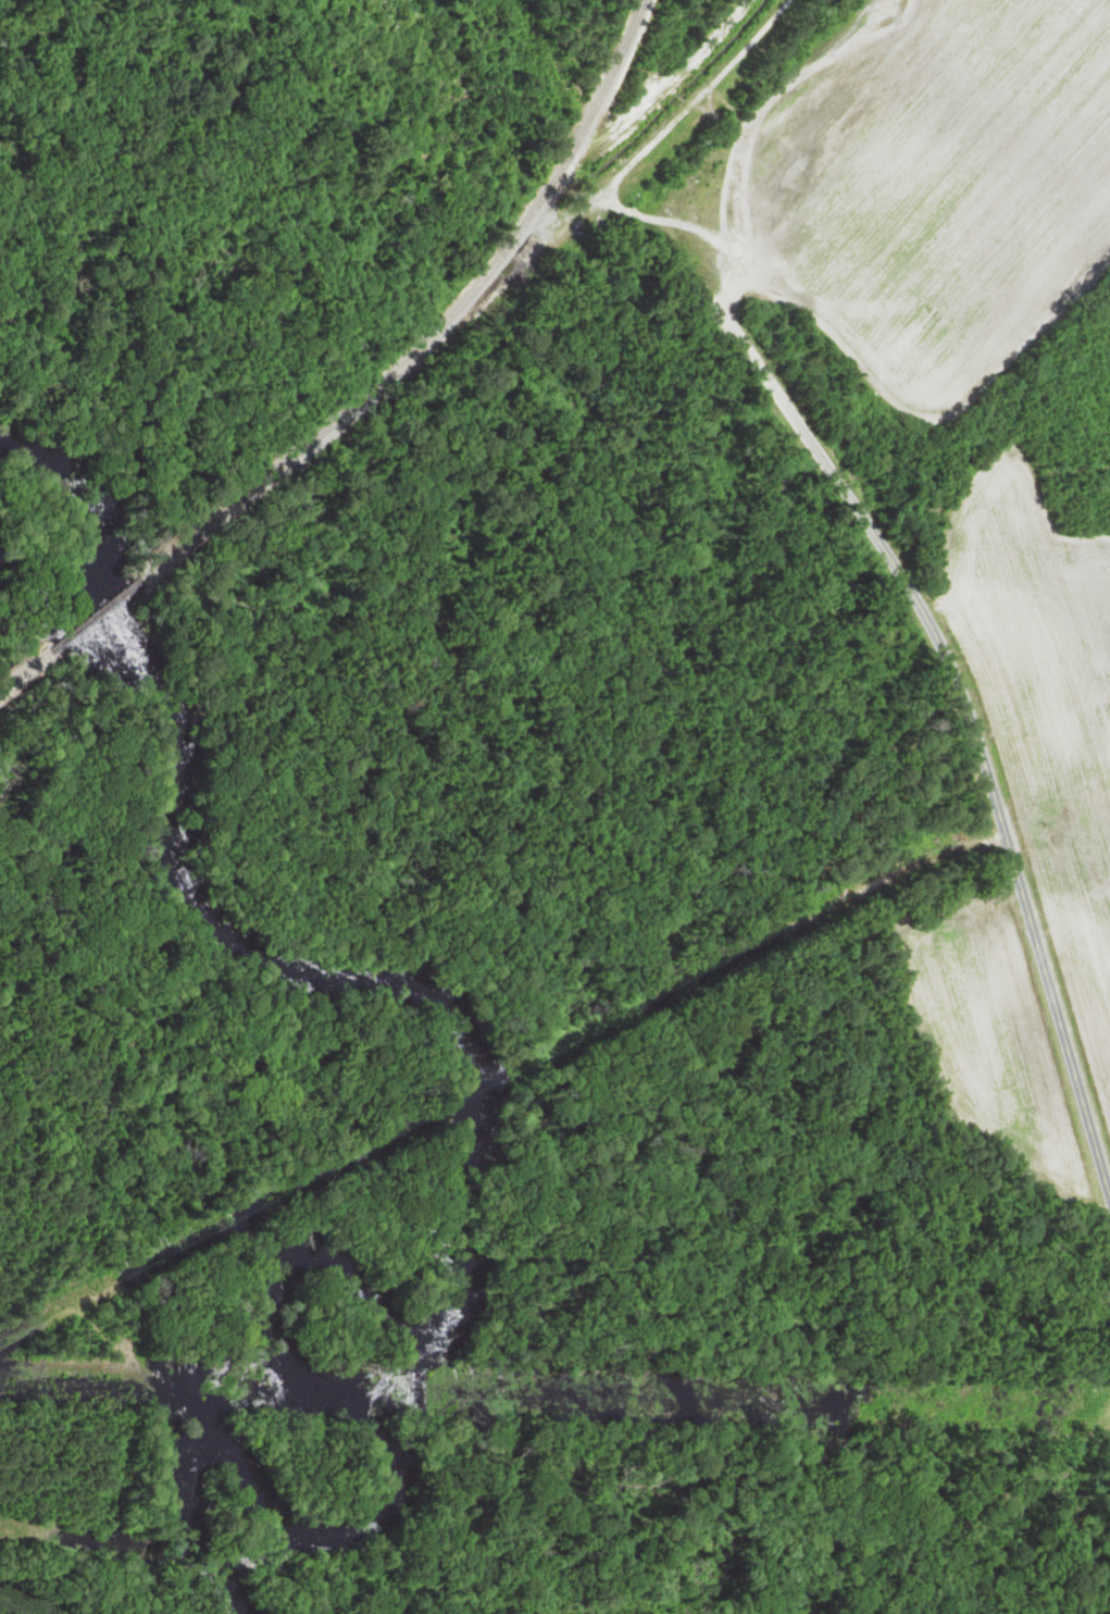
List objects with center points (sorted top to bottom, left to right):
road: (766, 109)
railway: (539, 201)
road: (668, 223)
road: (922, 411)
railway: (267, 482)
river: (0, 572)
railway: (108, 609)
railway: (35, 667)
river: (179, 703)
road: (965, 727)
river: (279, 1294)

